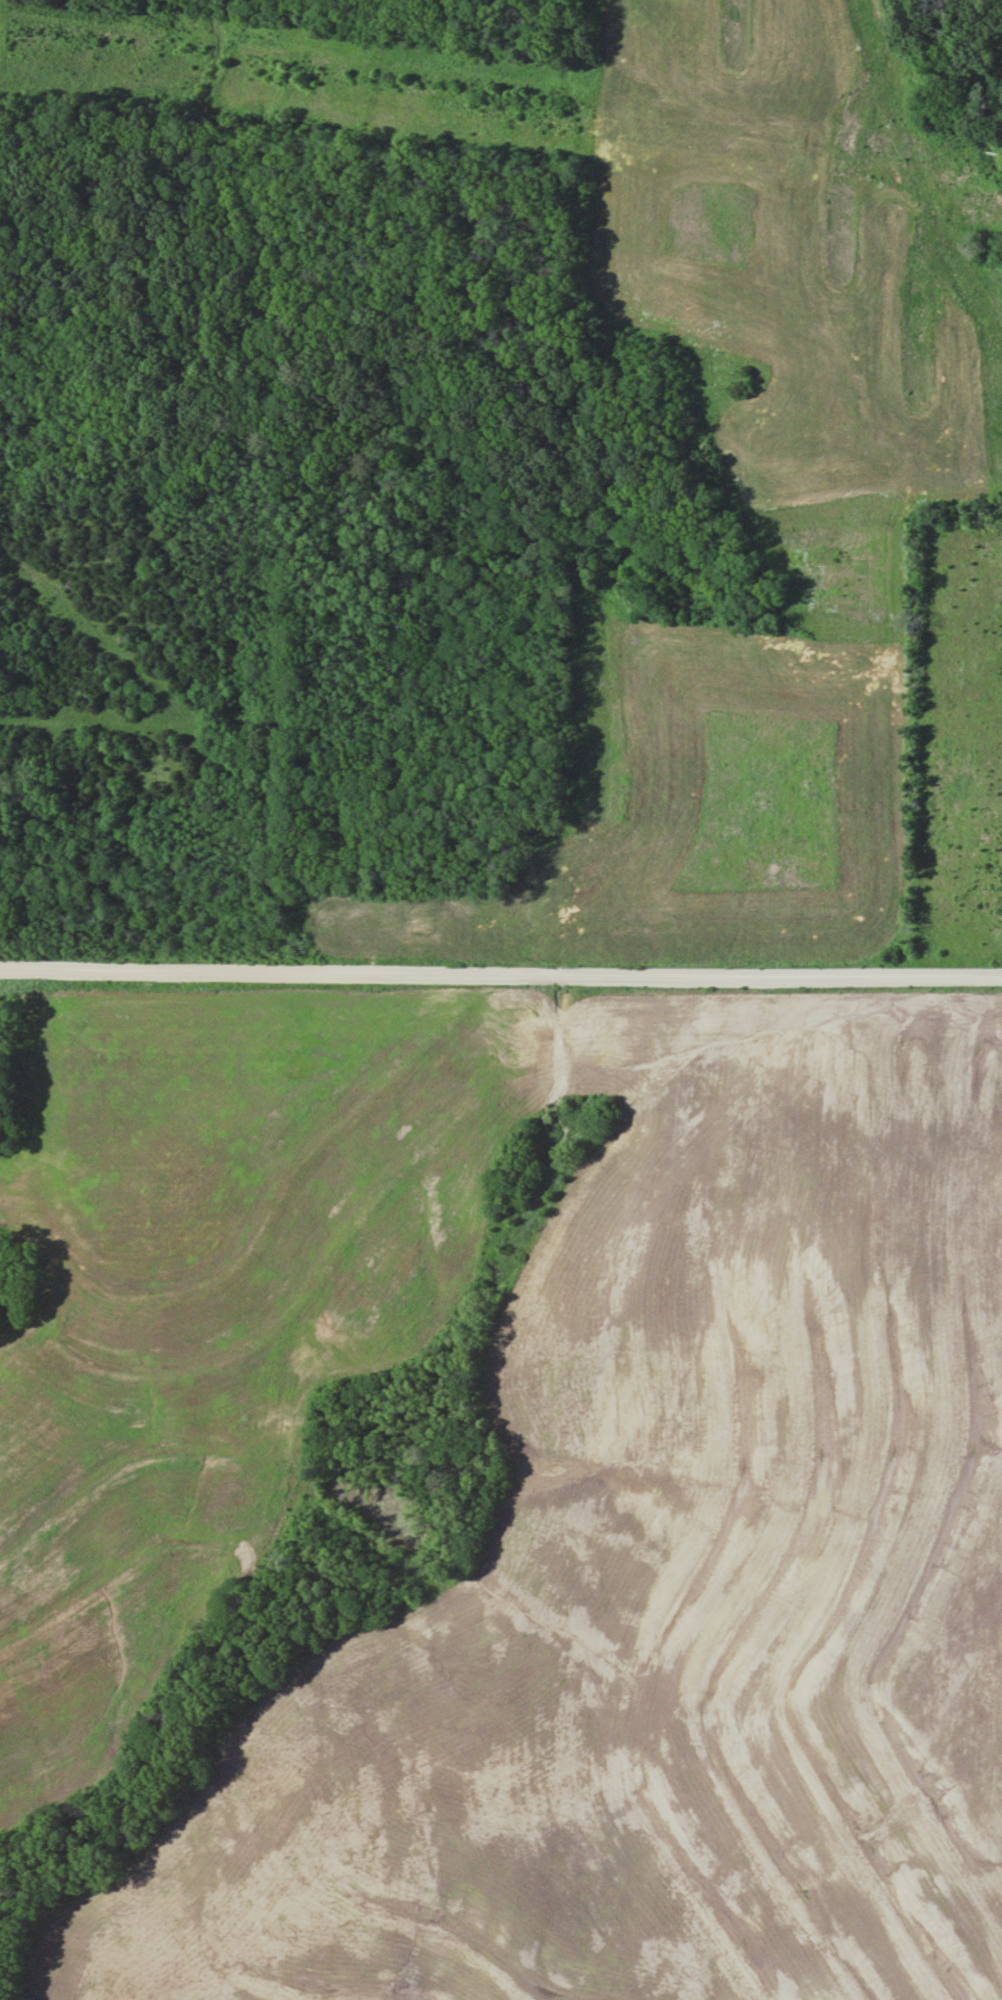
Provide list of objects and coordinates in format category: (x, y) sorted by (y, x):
road: (500, 978)

